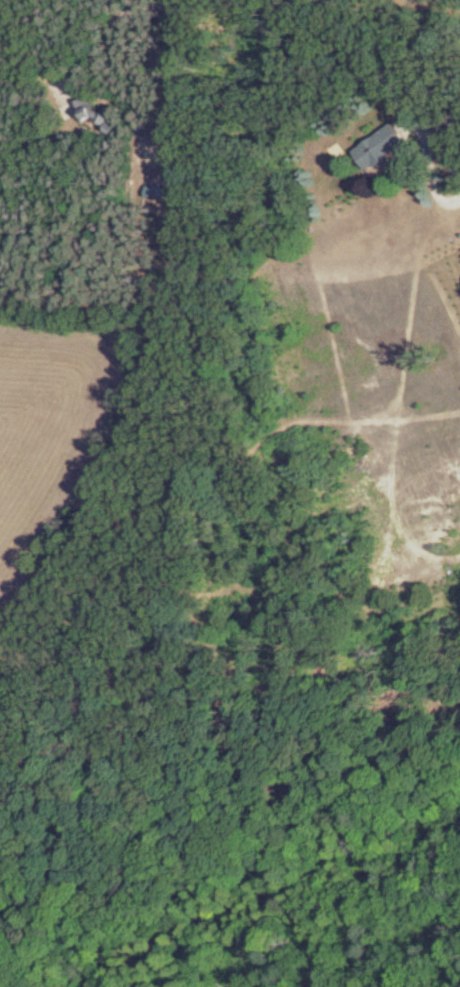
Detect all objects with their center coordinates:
road: (111, 22)
road: (386, 73)
road: (182, 92)
building: (92, 111)
building: (381, 146)
building: (159, 191)

